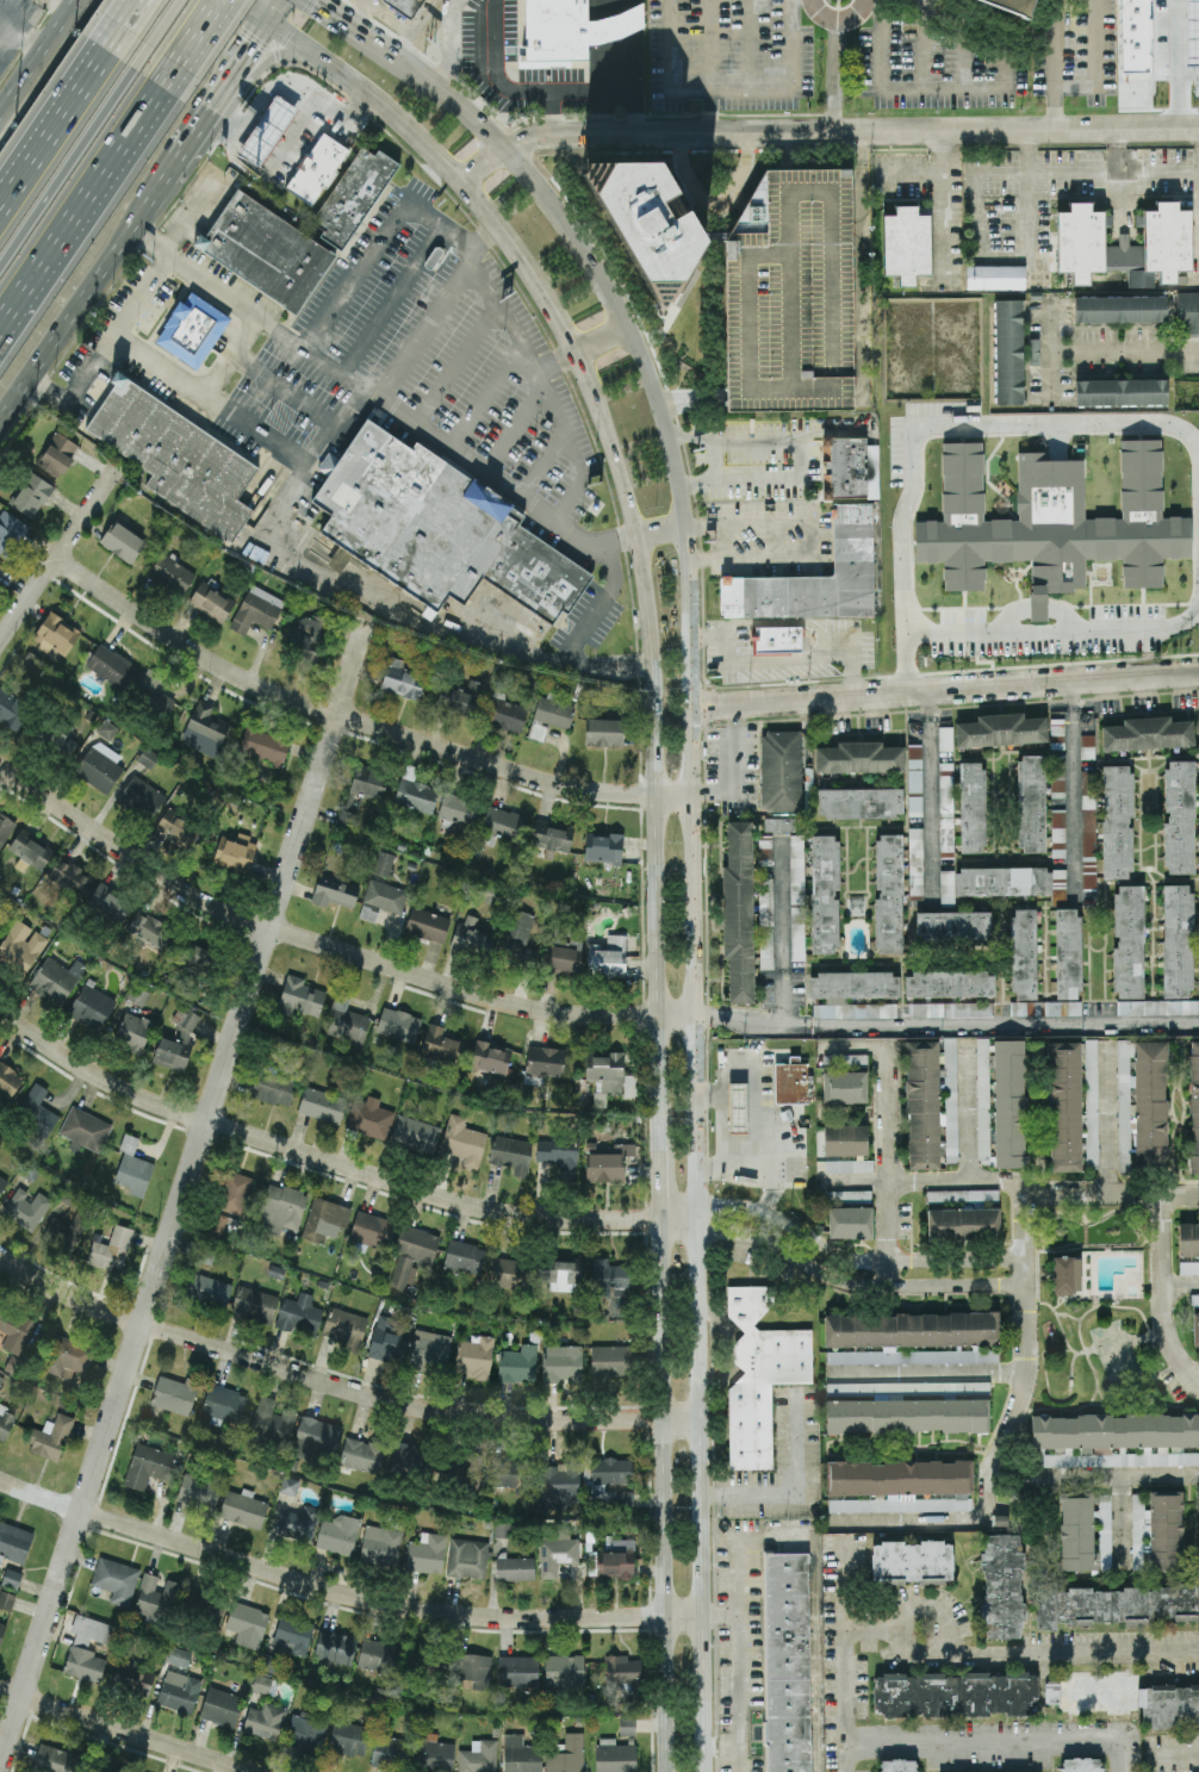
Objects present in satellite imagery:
building: (404, 6)
building: (1007, 6)
road: (254, 12)
road: (280, 12)
road: (138, 15)
road: (358, 15)
road: (335, 19)
road: (837, 21)
road: (400, 23)
road: (169, 25)
traffic signals: (272, 25)
building: (572, 27)
road: (217, 29)
building: (1192, 31)
road: (12, 33)
road: (210, 36)
road: (29, 42)
road: (449, 48)
road: (254, 50)
road: (271, 55)
building: (1133, 55)
road: (39, 58)
road: (1054, 63)
road: (1176, 63)
road: (1095, 64)
road: (709, 66)
road: (486, 68)
road: (613, 69)
road: (835, 75)
road: (789, 82)
road: (565, 88)
road: (983, 88)
road: (66, 111)
road: (596, 111)
road: (201, 128)
building: (285, 128)
building: (267, 130)
road: (821, 130)
road: (862, 156)
road: (76, 161)
building: (317, 168)
road: (443, 169)
road: (1118, 176)
road: (939, 181)
road: (1, 191)
road: (1, 192)
building: (353, 195)
road: (1027, 200)
road: (93, 210)
building: (635, 213)
road: (384, 235)
building: (906, 244)
building: (1124, 244)
building: (259, 249)
building: (995, 276)
building: (788, 292)
parking lot: (788, 292)
road: (392, 298)
road: (82, 300)
building: (1120, 309)
building: (1187, 312)
building: (190, 328)
road: (423, 331)
road: (598, 343)
road: (1049, 350)
road: (1124, 350)
building: (1008, 352)
road: (231, 360)
road: (454, 361)
road: (546, 375)
building: (1122, 392)
road: (486, 393)
road: (378, 398)
road: (522, 408)
road: (330, 428)
road: (979, 428)
building: (173, 453)
building: (57, 454)
road: (800, 455)
road: (714, 460)
building: (850, 468)
building: (31, 495)
building: (1051, 521)
building: (435, 526)
road: (658, 530)
building: (10, 531)
road: (810, 536)
road: (284, 540)
building: (122, 541)
road: (58, 552)
building: (0, 561)
building: (172, 573)
building: (815, 577)
building: (211, 602)
road: (602, 604)
building: (1038, 607)
building: (256, 609)
building: (55, 634)
building: (307, 636)
road: (1057, 636)
building: (777, 639)
road: (782, 664)
building: (111, 665)
road: (902, 667)
building: (402, 679)
road: (945, 691)
building: (153, 692)
building: (459, 698)
building: (12, 709)
building: (553, 711)
building: (505, 713)
road: (356, 720)
building: (106, 728)
building: (204, 729)
building: (1001, 729)
building: (603, 732)
building: (1148, 733)
building: (58, 734)
building: (945, 738)
road: (650, 741)
building: (265, 745)
building: (858, 757)
building: (100, 766)
building: (781, 771)
building: (914, 781)
building: (368, 782)
building: (415, 791)
road: (1073, 791)
building: (141, 797)
road: (931, 800)
building: (859, 802)
building: (1031, 803)
building: (973, 806)
building: (946, 807)
building: (458, 808)
building: (1179, 816)
building: (346, 820)
building: (1117, 821)
building: (503, 823)
building: (779, 823)
building: (174, 826)
building: (5, 827)
building: (1088, 828)
building: (551, 835)
building: (603, 847)
road: (690, 847)
building: (30, 850)
building: (235, 852)
building: (917, 858)
building: (383, 863)
building: (796, 869)
building: (69, 877)
building: (994, 882)
building: (335, 891)
building: (824, 893)
building: (888, 893)
building: (381, 900)
building: (107, 902)
building: (739, 912)
building: (765, 922)
building: (427, 924)
building: (953, 925)
building: (149, 929)
road: (781, 932)
building: (518, 933)
building: (797, 933)
building: (471, 937)
building: (1178, 940)
building: (1129, 941)
road: (327, 945)
building: (20, 946)
building: (1024, 953)
building: (1068, 953)
building: (195, 955)
building: (564, 955)
building: (607, 957)
building: (54, 980)
building: (949, 983)
building: (849, 990)
building: (137, 995)
building: (300, 996)
building: (92, 1006)
building: (1157, 1007)
building: (1045, 1008)
building: (887, 1009)
building: (949, 1009)
building: (348, 1024)
building: (398, 1024)
road: (1006, 1024)
road: (752, 1026)
building: (132, 1032)
building: (178, 1040)
building: (440, 1043)
road: (855, 1044)
building: (490, 1057)
building: (546, 1061)
building: (610, 1072)
building: (845, 1078)
building: (8, 1080)
building: (790, 1081)
road: (722, 1083)
building: (272, 1088)
building: (982, 1098)
building: (950, 1100)
building: (1009, 1102)
building: (1092, 1102)
building: (1142, 1103)
building: (322, 1105)
building: (922, 1105)
building: (1064, 1106)
building: (738, 1107)
road: (968, 1108)
building: (1194, 1108)
building: (37, 1109)
road: (1110, 1118)
building: (369, 1119)
building: (412, 1127)
building: (85, 1129)
building: (845, 1139)
building: (464, 1140)
road: (759, 1144)
building: (510, 1154)
building: (559, 1155)
road: (317, 1157)
building: (607, 1161)
building: (849, 1165)
road: (889, 1165)
building: (132, 1168)
road: (660, 1179)
road: (926, 1179)
building: (2, 1182)
road: (770, 1188)
building: (236, 1192)
road: (1113, 1193)
building: (845, 1194)
road: (182, 1196)
building: (26, 1207)
building: (281, 1207)
road: (677, 1217)
building: (324, 1219)
building: (850, 1221)
building: (963, 1224)
building: (216, 1225)
building: (372, 1229)
building: (66, 1231)
building: (1188, 1239)
road: (1025, 1241)
building: (111, 1249)
building: (206, 1254)
building: (412, 1254)
building: (464, 1256)
road: (851, 1258)
building: (1188, 1267)
building: (504, 1273)
building: (565, 1274)
building: (1067, 1274)
road: (1181, 1282)
building: (611, 1285)
road: (850, 1286)
building: (209, 1288)
road: (1164, 1295)
building: (1194, 1299)
building: (254, 1302)
building: (298, 1313)
building: (346, 1328)
building: (1195, 1328)
building: (14, 1330)
building: (909, 1337)
building: (474, 1356)
building: (67, 1357)
building: (610, 1361)
building: (518, 1363)
building: (563, 1363)
building: (758, 1373)
road: (925, 1373)
road: (338, 1385)
building: (174, 1394)
building: (223, 1403)
building: (907, 1406)
building: (6, 1420)
building: (271, 1420)
building: (50, 1437)
building: (316, 1438)
building: (1113, 1440)
building: (361, 1455)
building: (408, 1459)
building: (147, 1466)
building: (611, 1471)
building: (512, 1473)
road: (1092, 1475)
road: (984, 1476)
building: (559, 1484)
building: (288, 1485)
building: (899, 1485)
road: (794, 1487)
building: (198, 1491)
road: (659, 1493)
building: (608, 1496)
building: (242, 1507)
building: (297, 1523)
road: (1122, 1525)
building: (502, 1529)
building: (1085, 1530)
building: (1157, 1530)
building: (337, 1534)
road: (778, 1537)
building: (380, 1540)
building: (14, 1542)
building: (427, 1553)
building: (555, 1555)
building: (467, 1558)
building: (912, 1561)
building: (515, 1568)
building: (12, 1577)
building: (116, 1580)
building: (1002, 1586)
road: (342, 1591)
building: (159, 1598)
building: (6, 1599)
building: (1113, 1604)
road: (921, 1605)
road: (720, 1616)
building: (248, 1624)
road: (872, 1628)
building: (1, 1630)
building: (89, 1630)
building: (292, 1635)
road: (846, 1642)
building: (335, 1647)
road: (1069, 1652)
road: (740, 1654)
road: (818, 1654)
building: (378, 1655)
building: (178, 1656)
building: (789, 1661)
building: (83, 1664)
building: (271, 1664)
building: (474, 1670)
building: (564, 1670)
building: (517, 1671)
building: (139, 1678)
building: (261, 1683)
building: (179, 1691)
building: (955, 1693)
building: (1129, 1697)
building: (220, 1706)
building: (265, 1721)
building: (627, 1726)
road: (128, 1731)
building: (305, 1731)
building: (348, 1739)
road: (998, 1742)
building: (390, 1752)
building: (437, 1753)
road: (1179, 1753)
building: (521, 1754)
building: (567, 1755)
building: (478, 1757)
building: (615, 1758)
road: (846, 1758)
building: (55, 1759)
building: (1081, 1764)
building: (897, 1765)

